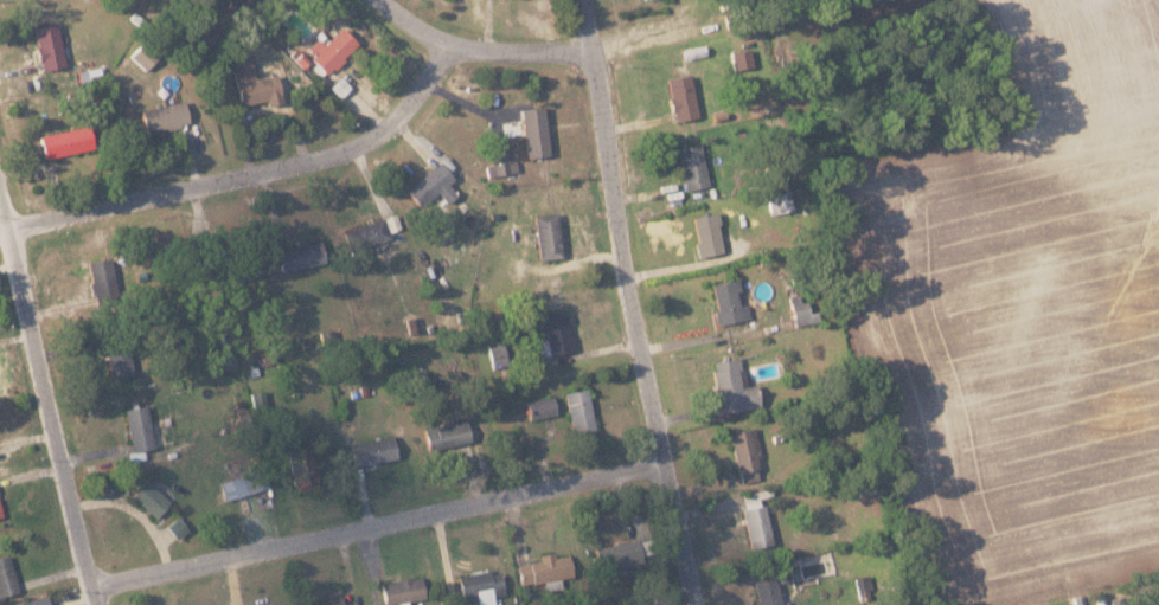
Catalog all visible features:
building: (222, 1)
building: (245, 2)
building: (50, 45)
building: (333, 47)
road: (484, 47)
building: (145, 54)
building: (743, 58)
building: (256, 83)
building: (684, 96)
building: (166, 115)
building: (536, 130)
building: (68, 141)
building: (501, 160)
building: (693, 166)
road: (251, 172)
building: (434, 184)
road: (5, 229)
building: (376, 230)
building: (709, 233)
building: (549, 234)
building: (302, 255)
building: (103, 272)
building: (730, 301)
road: (630, 303)
building: (805, 310)
building: (556, 333)
building: (498, 348)
building: (226, 356)
building: (120, 361)
building: (735, 386)
road: (47, 393)
building: (542, 406)
building: (581, 410)
building: (140, 426)
building: (448, 433)
building: (374, 450)
building: (748, 453)
building: (308, 472)
building: (244, 483)
building: (152, 498)
building: (1, 509)
building: (757, 516)
road: (378, 526)
building: (623, 552)
building: (546, 568)
building: (7, 575)
building: (484, 585)
building: (404, 590)
building: (768, 591)
building: (329, 600)
building: (32, 601)

